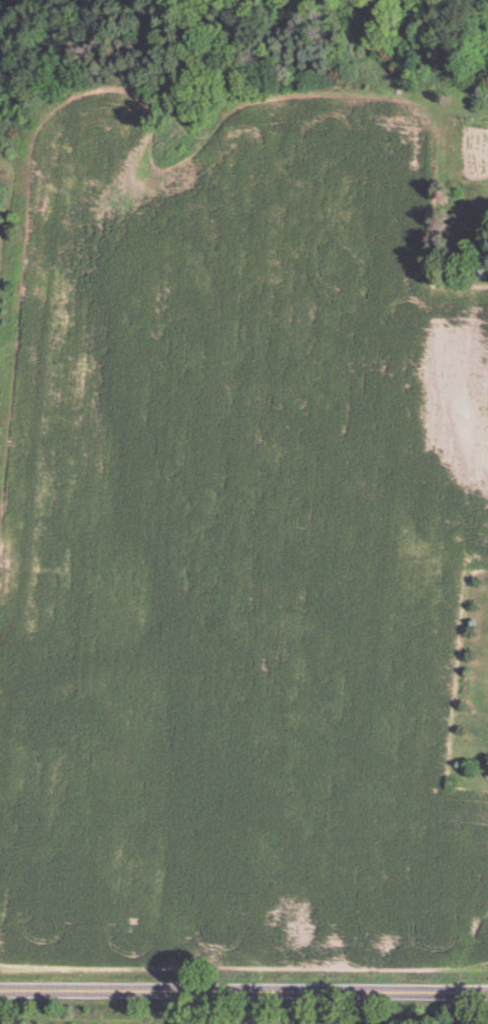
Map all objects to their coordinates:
road: (244, 986)
road: (461, 1005)

